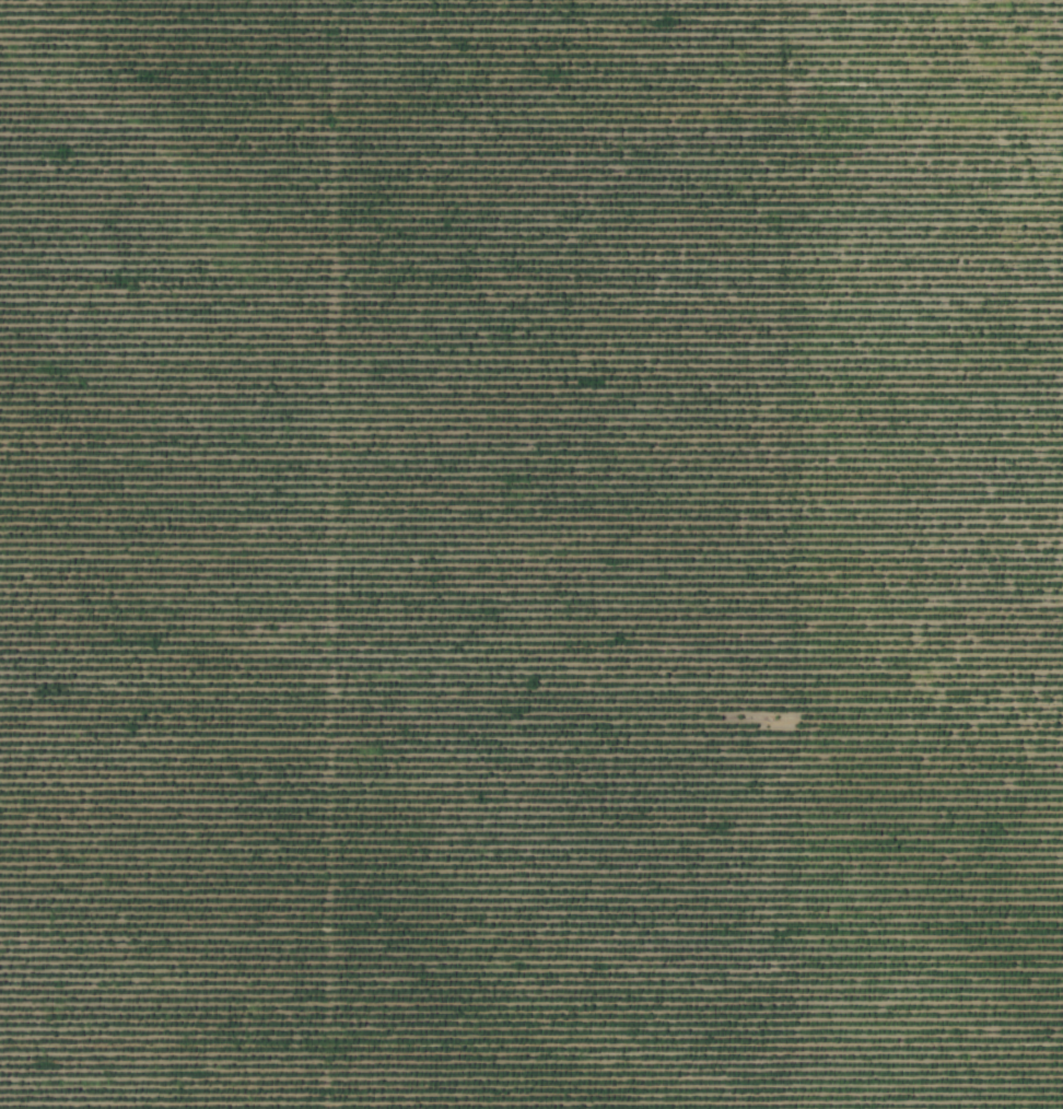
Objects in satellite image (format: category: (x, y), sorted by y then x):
crop: (531, 554)

